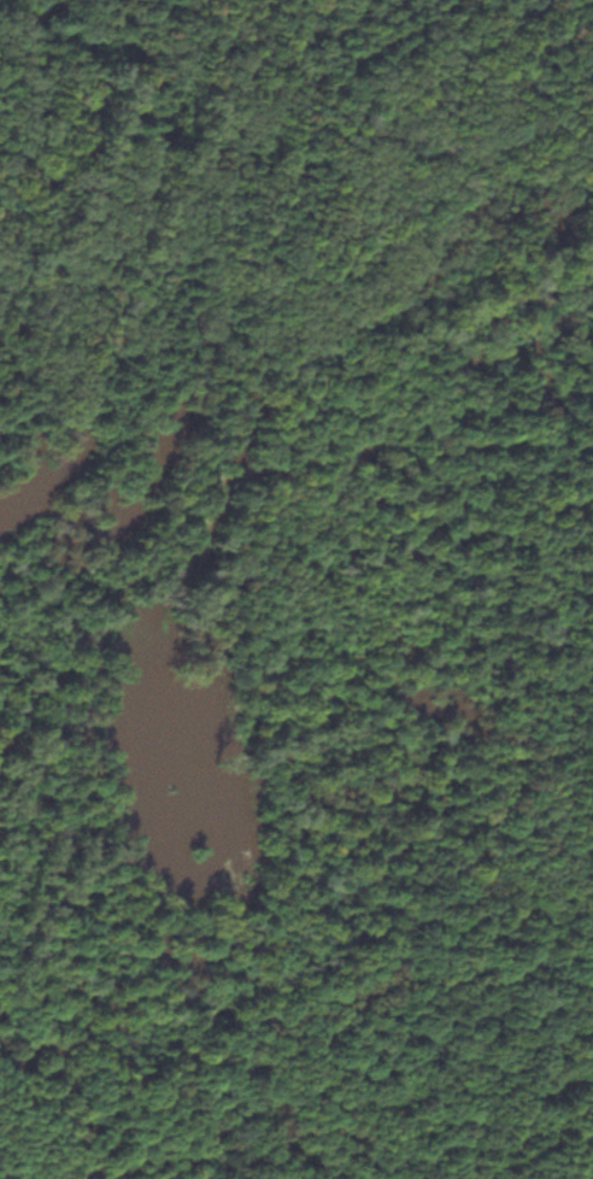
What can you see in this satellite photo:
road: (43, 11)

